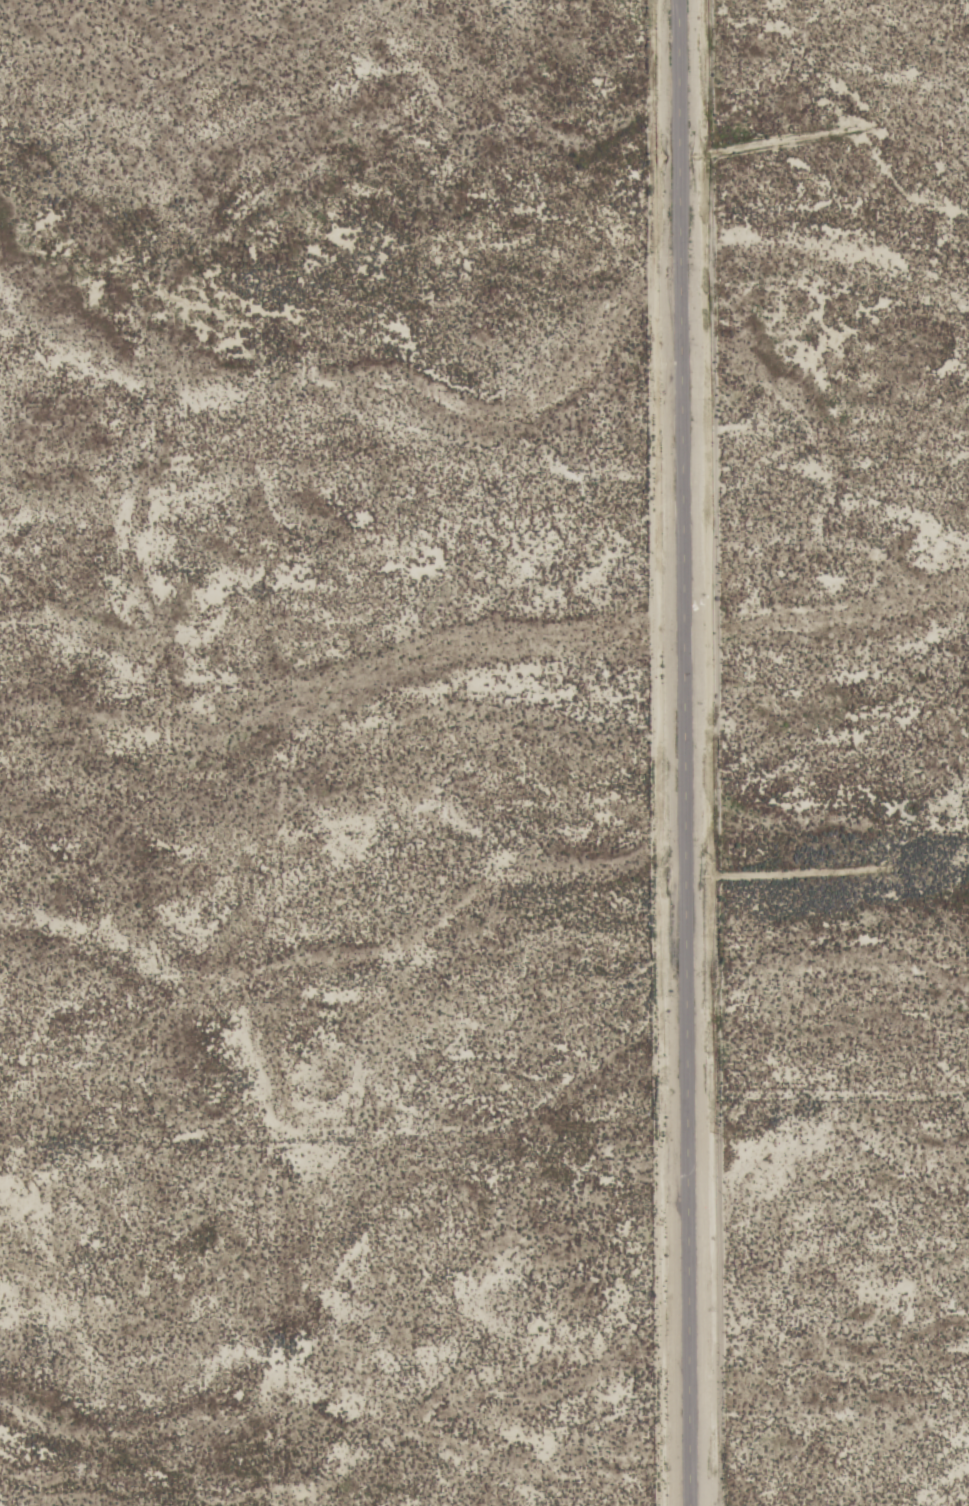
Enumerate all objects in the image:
road: (686, 752)

